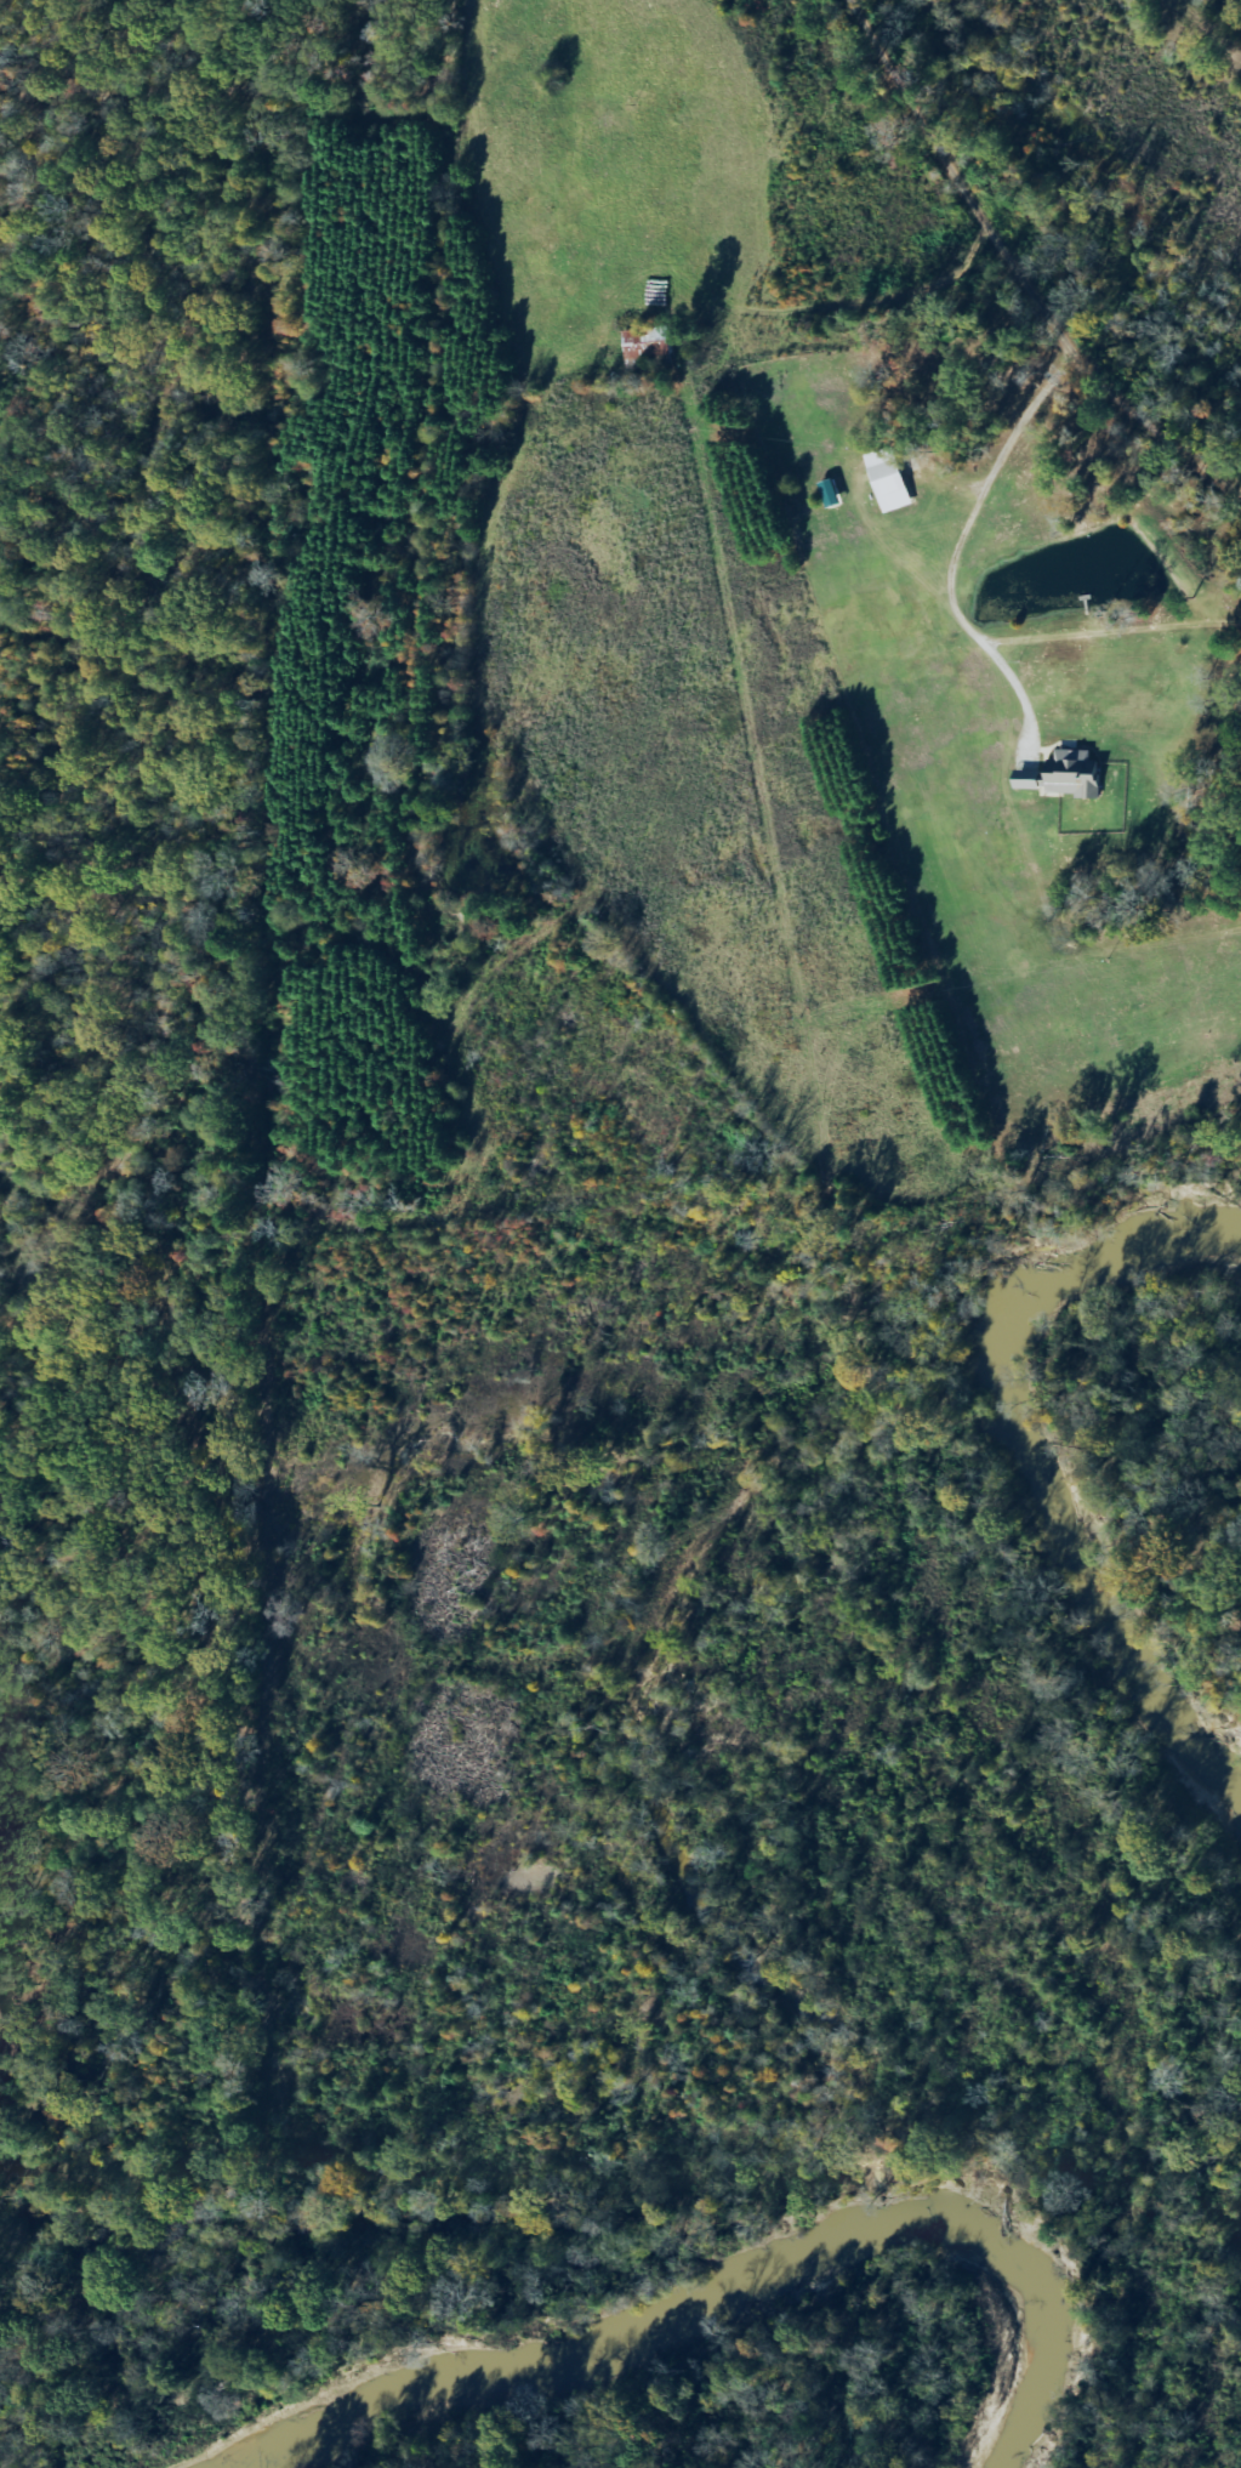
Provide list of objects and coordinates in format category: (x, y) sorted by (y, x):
road: (997, 275)
building: (648, 343)
building: (888, 479)
building: (1064, 775)
river: (1032, 1472)
river: (708, 2286)

